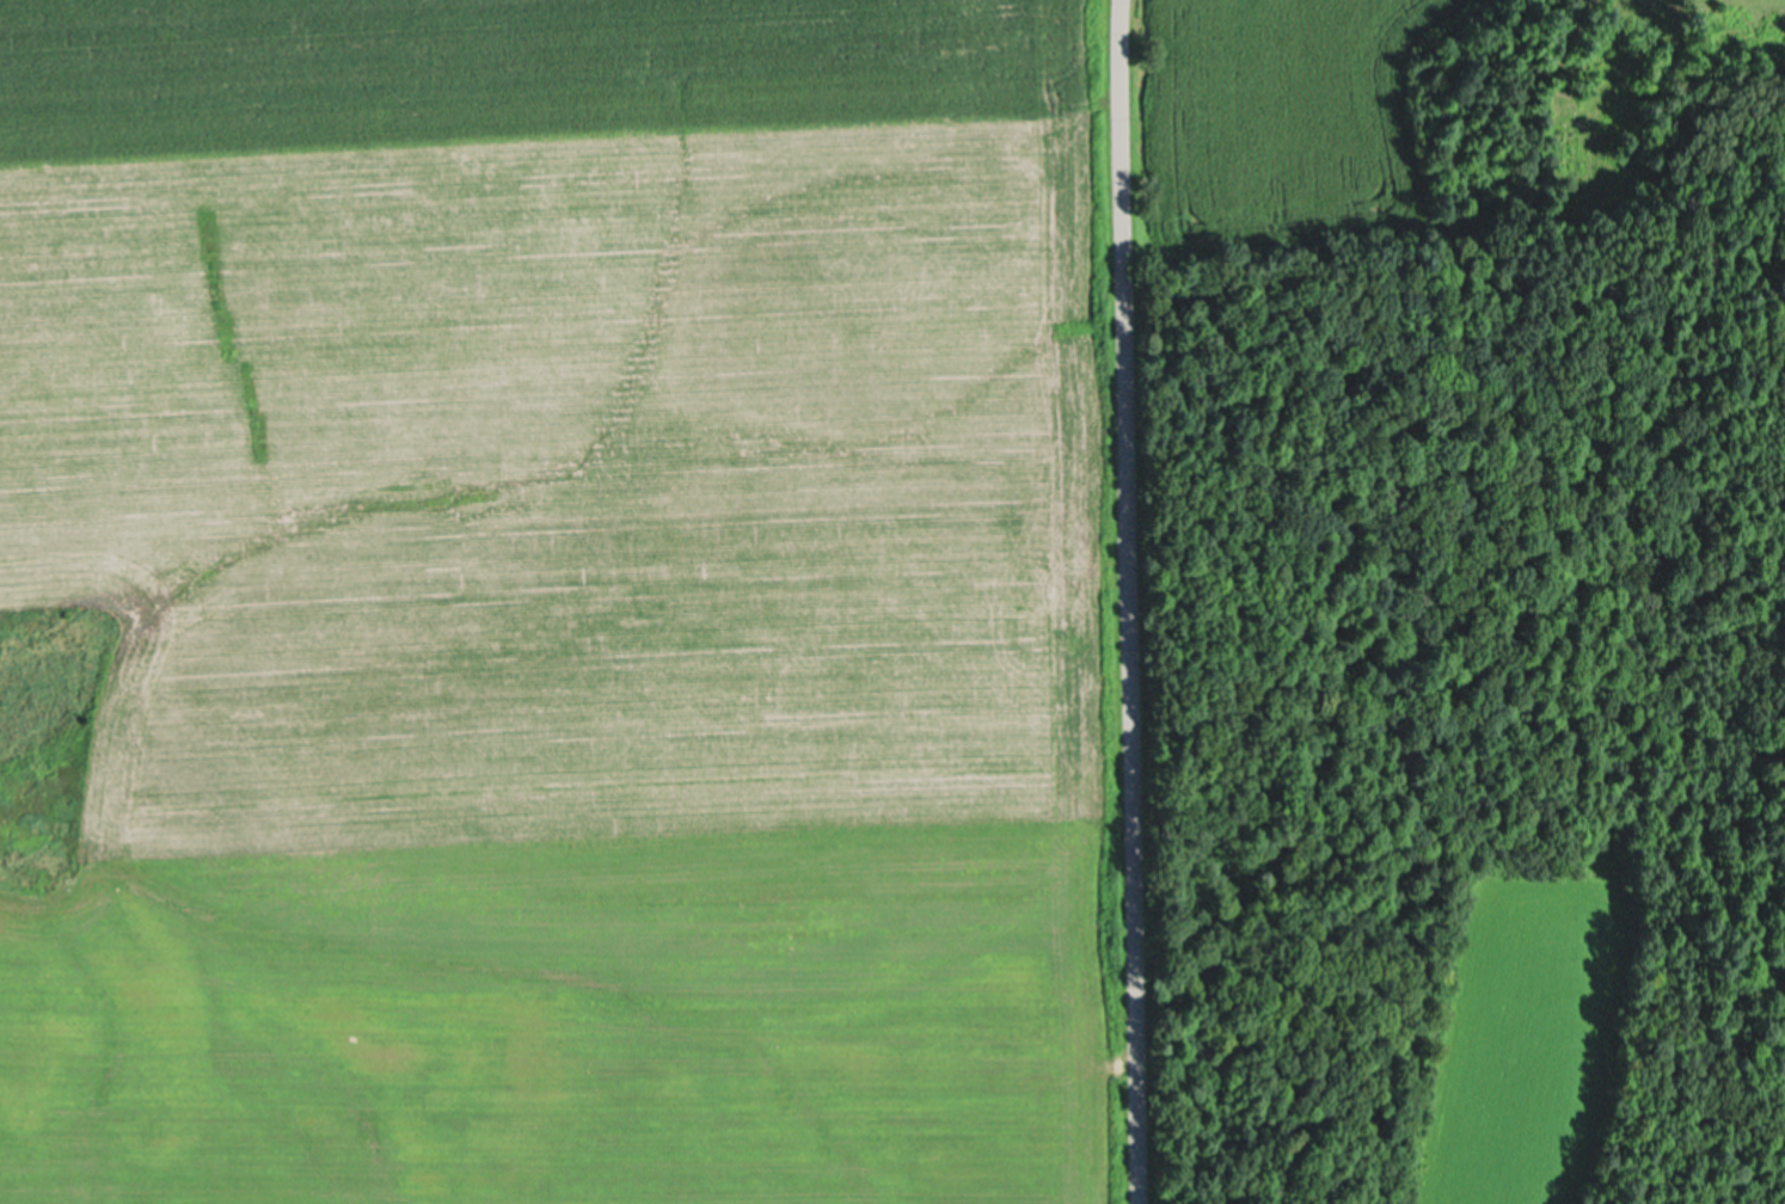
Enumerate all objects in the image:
road: (1129, 601)

